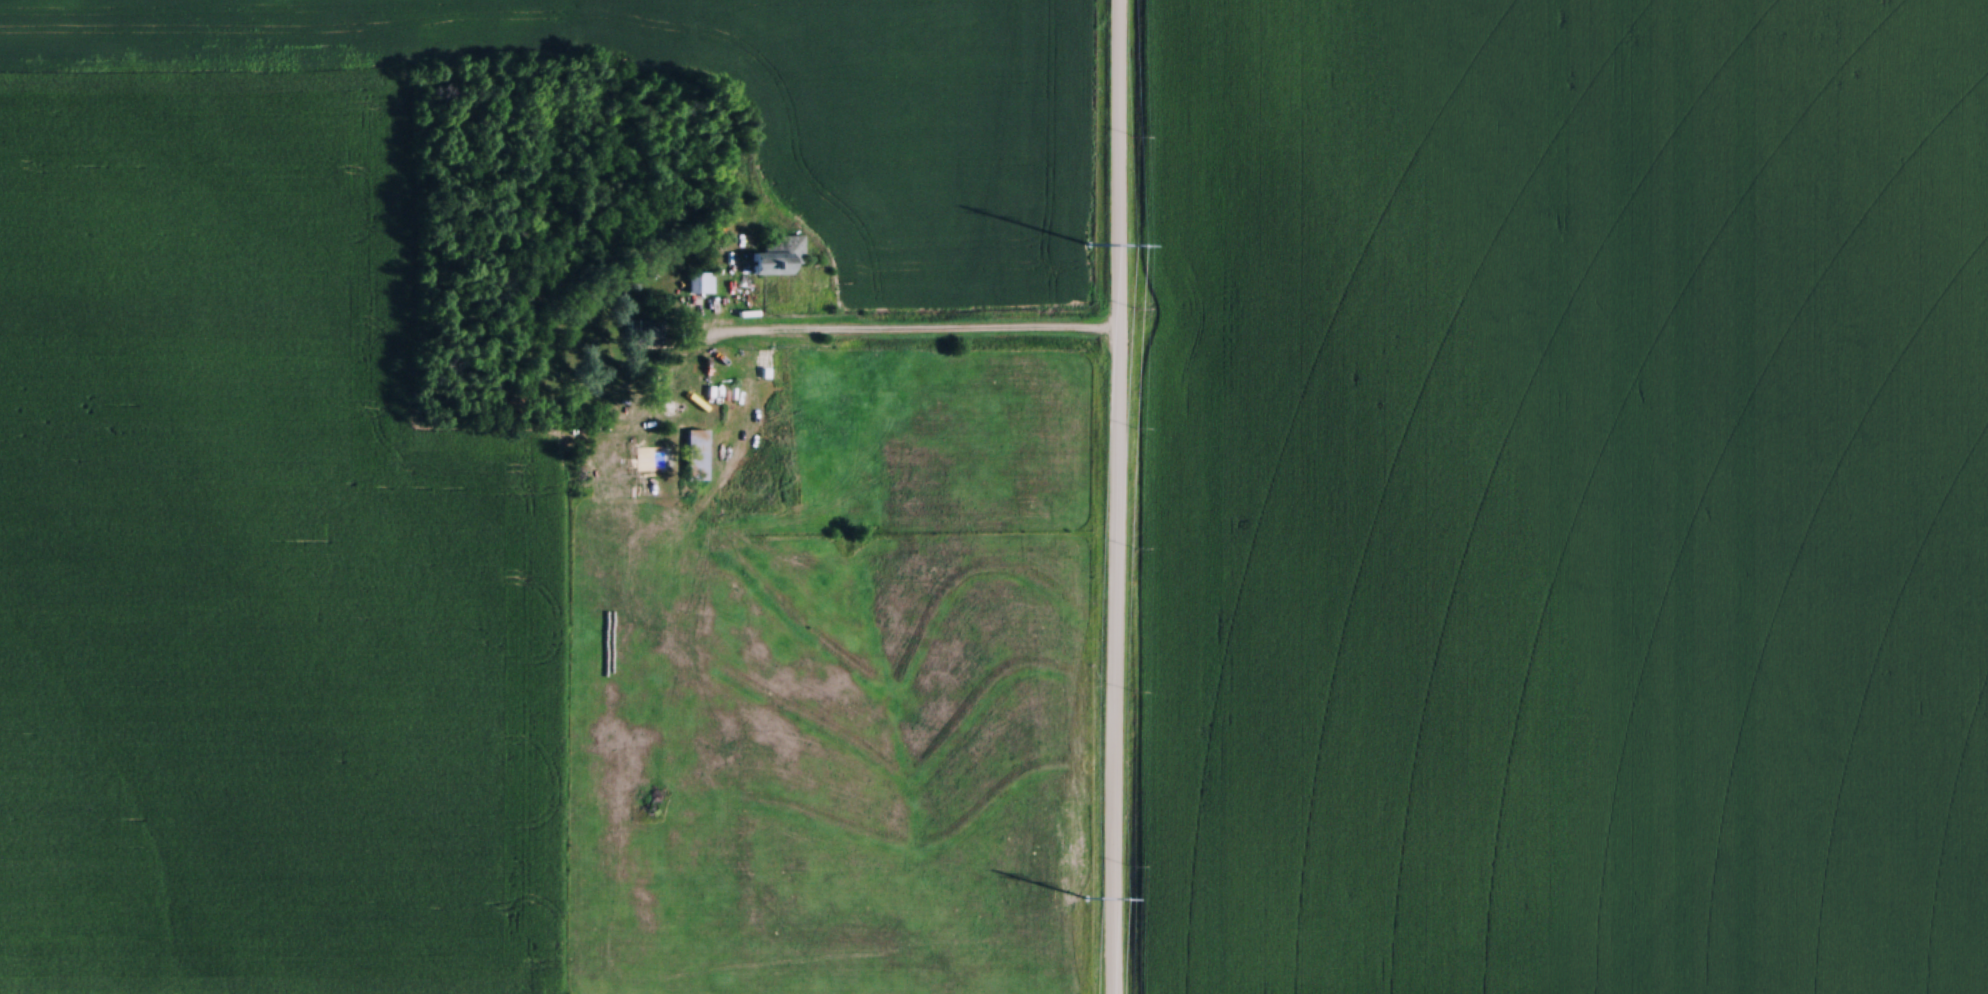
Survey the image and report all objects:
power tower: (1088, 243)
building: (775, 254)
building: (700, 283)
building: (647, 328)
road: (911, 335)
building: (694, 454)
road: (1117, 496)
power tower: (1086, 897)

